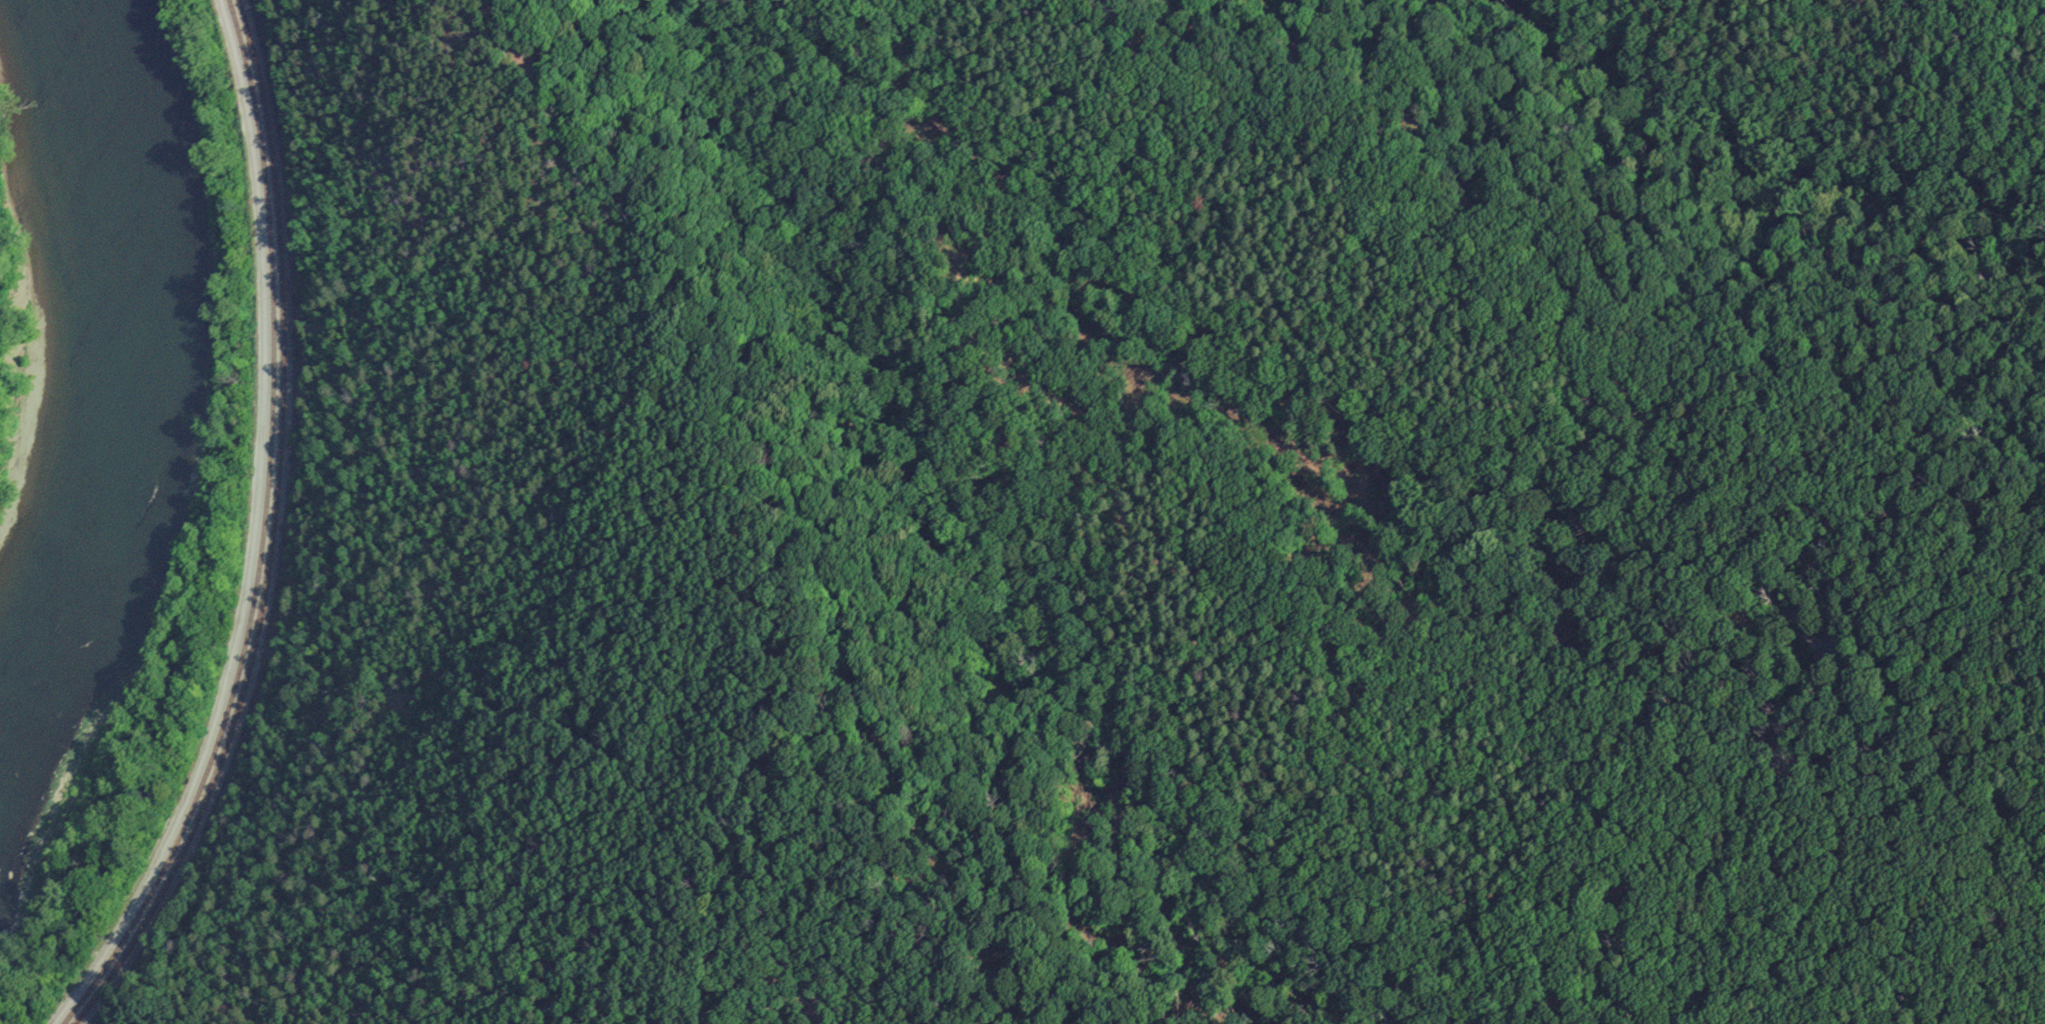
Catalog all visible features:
river: (115, 394)
railway: (264, 532)
railway: (273, 532)
road: (249, 533)

